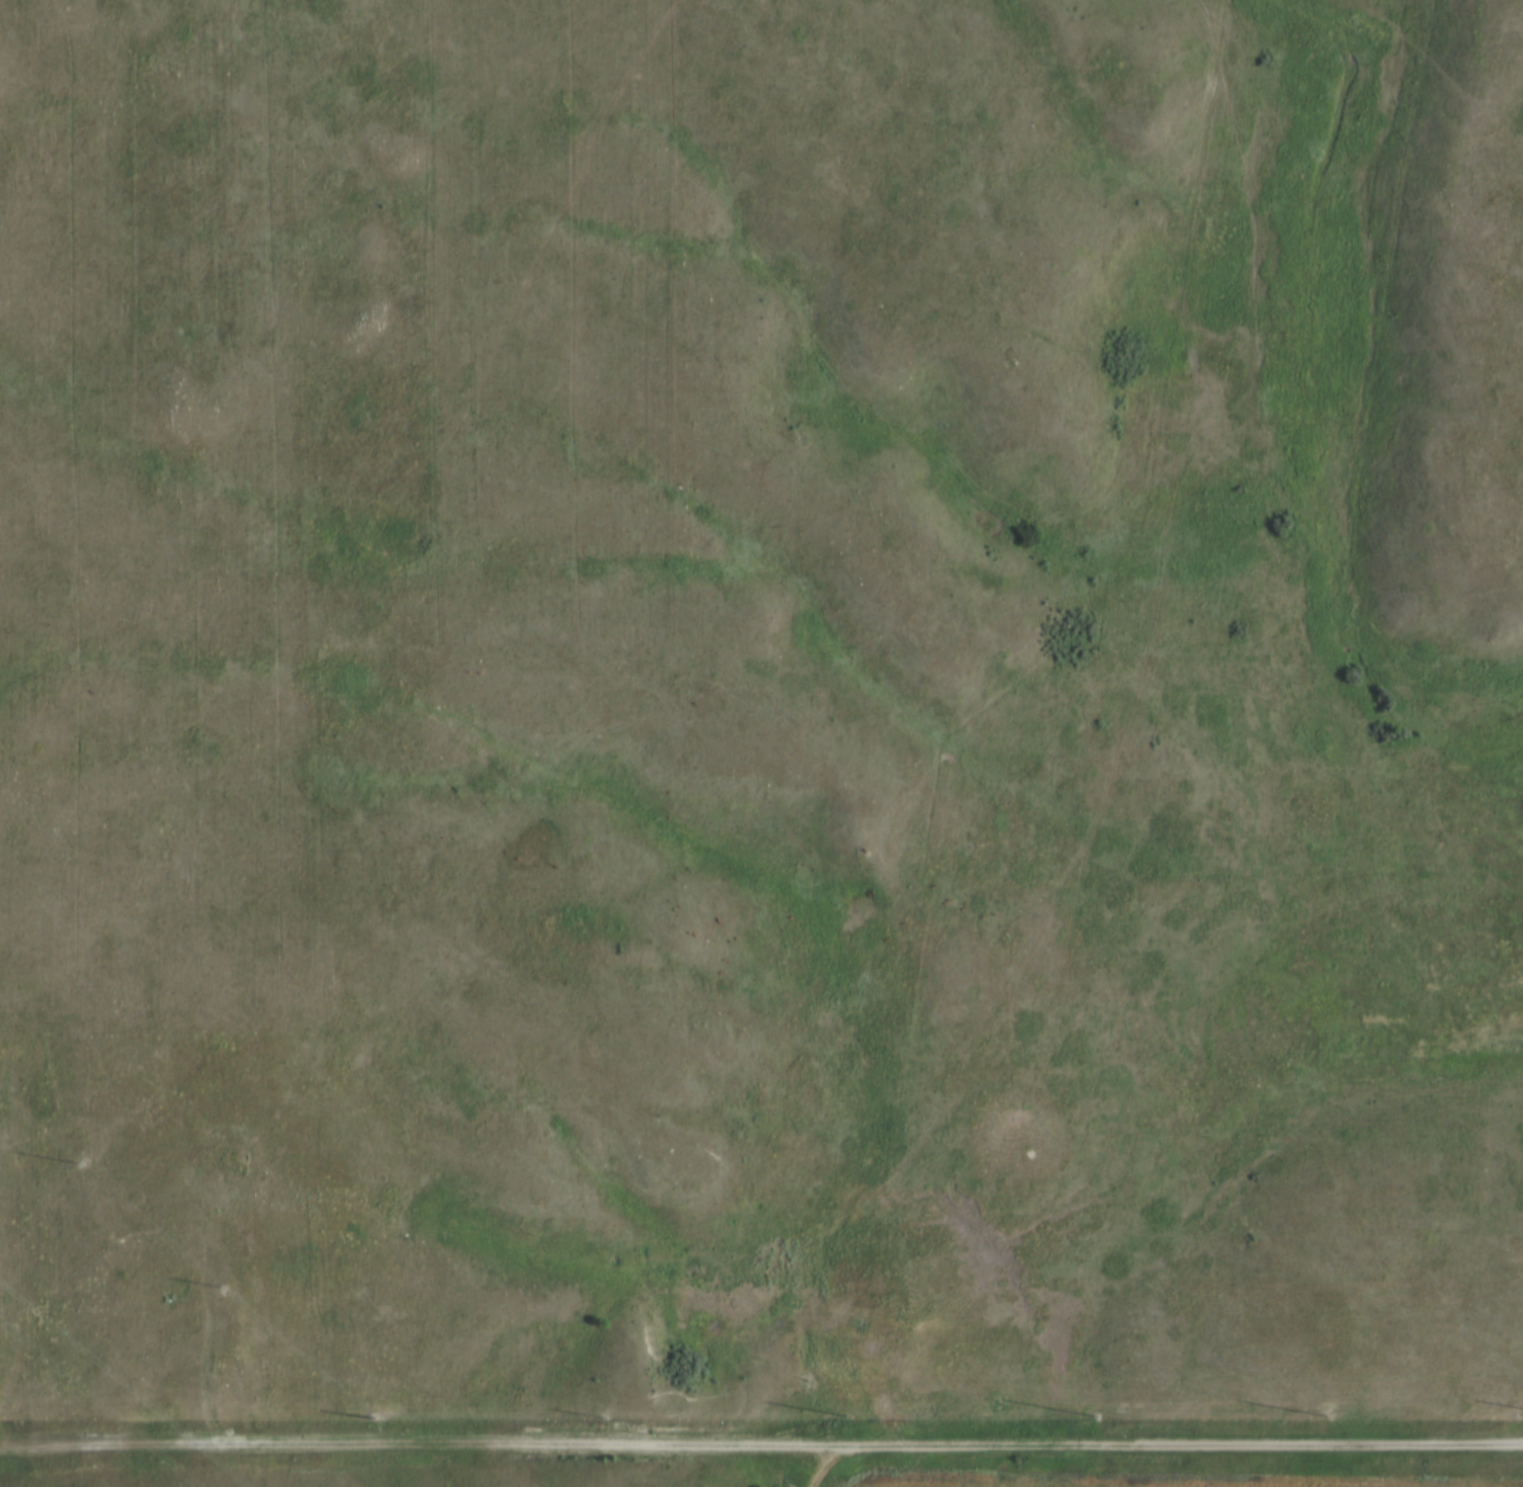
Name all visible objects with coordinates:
road: (761, 1442)
road: (942, 1463)

